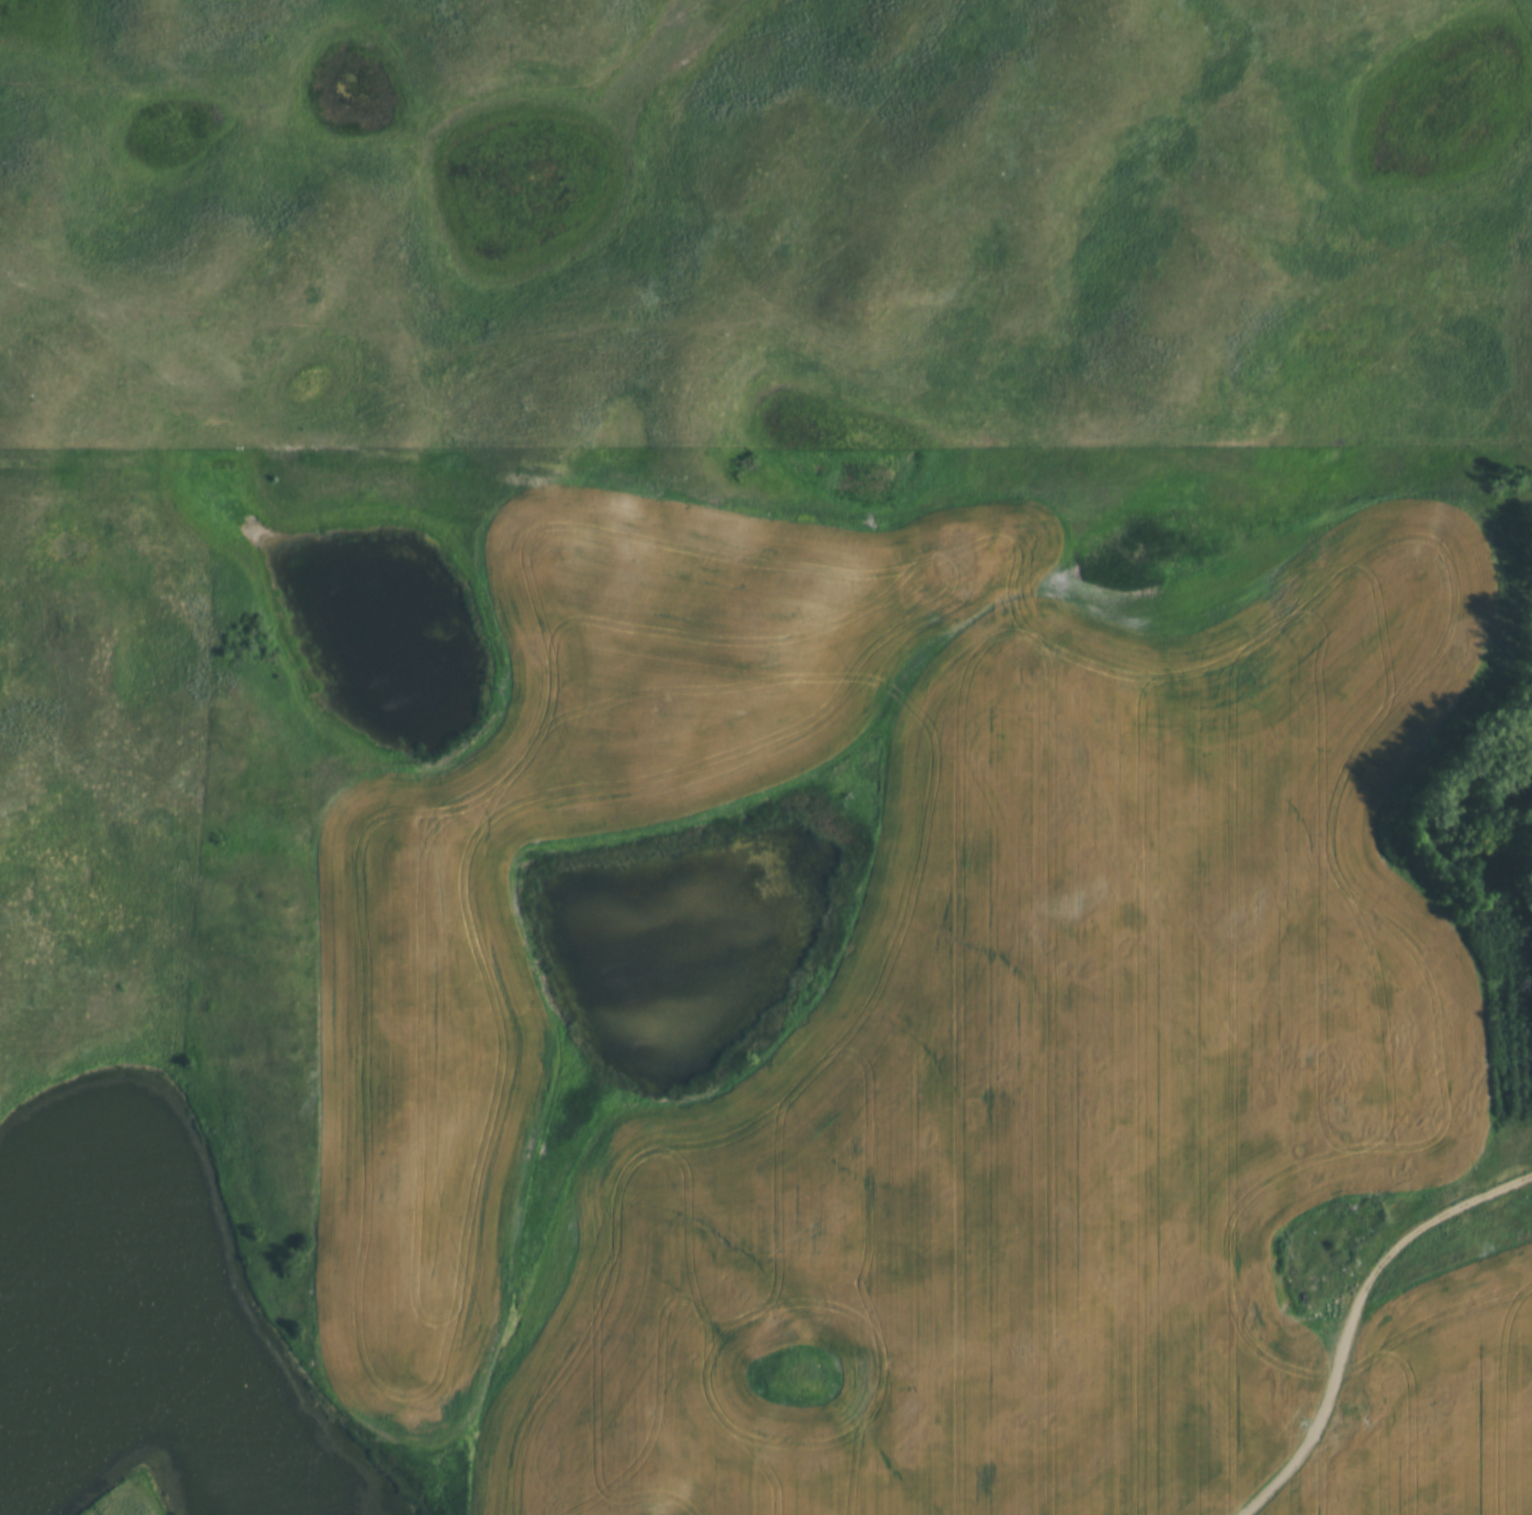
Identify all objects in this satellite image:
road: (1350, 1311)

